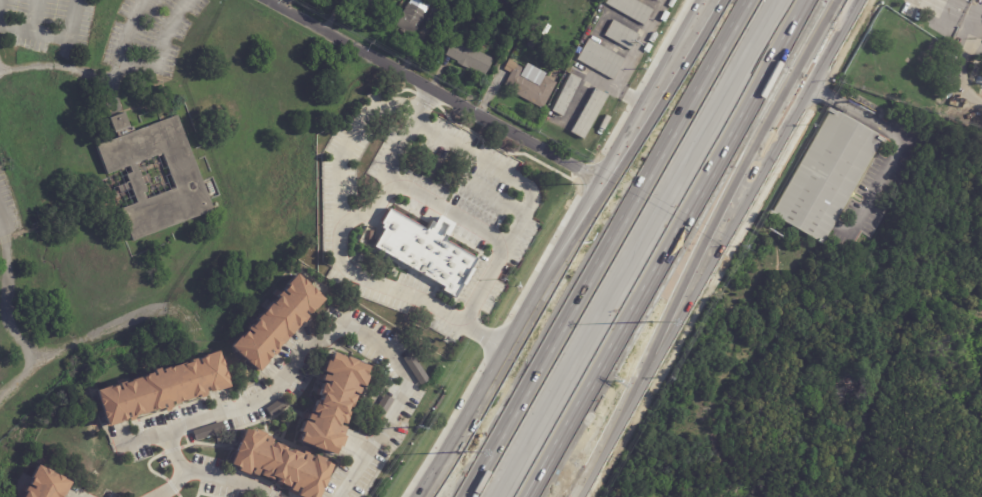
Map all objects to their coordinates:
building: (657, 0)
building: (370, 5)
road: (963, 7)
building: (632, 10)
building: (495, 15)
road: (32, 16)
building: (413, 18)
building: (572, 18)
building: (436, 19)
building: (584, 24)
road: (14, 28)
road: (64, 33)
building: (622, 36)
road: (161, 47)
building: (470, 56)
road: (978, 57)
building: (602, 60)
road: (969, 71)
road: (99, 75)
building: (531, 87)
road: (434, 89)
building: (947, 94)
building: (567, 96)
building: (610, 109)
building: (590, 113)
road: (639, 113)
road: (650, 114)
road: (348, 138)
road: (899, 146)
building: (826, 177)
building: (188, 178)
power tower: (572, 185)
road: (495, 195)
road: (725, 200)
road: (521, 214)
road: (720, 247)
road: (337, 248)
road: (606, 248)
road: (668, 248)
building: (423, 250)
road: (484, 286)
road: (9, 319)
building: (276, 322)
road: (88, 336)
road: (495, 361)
building: (414, 369)
building: (161, 389)
road: (235, 401)
building: (332, 403)
power tower: (415, 428)
building: (204, 432)
road: (374, 441)
building: (280, 465)
building: (44, 484)
road: (168, 486)

